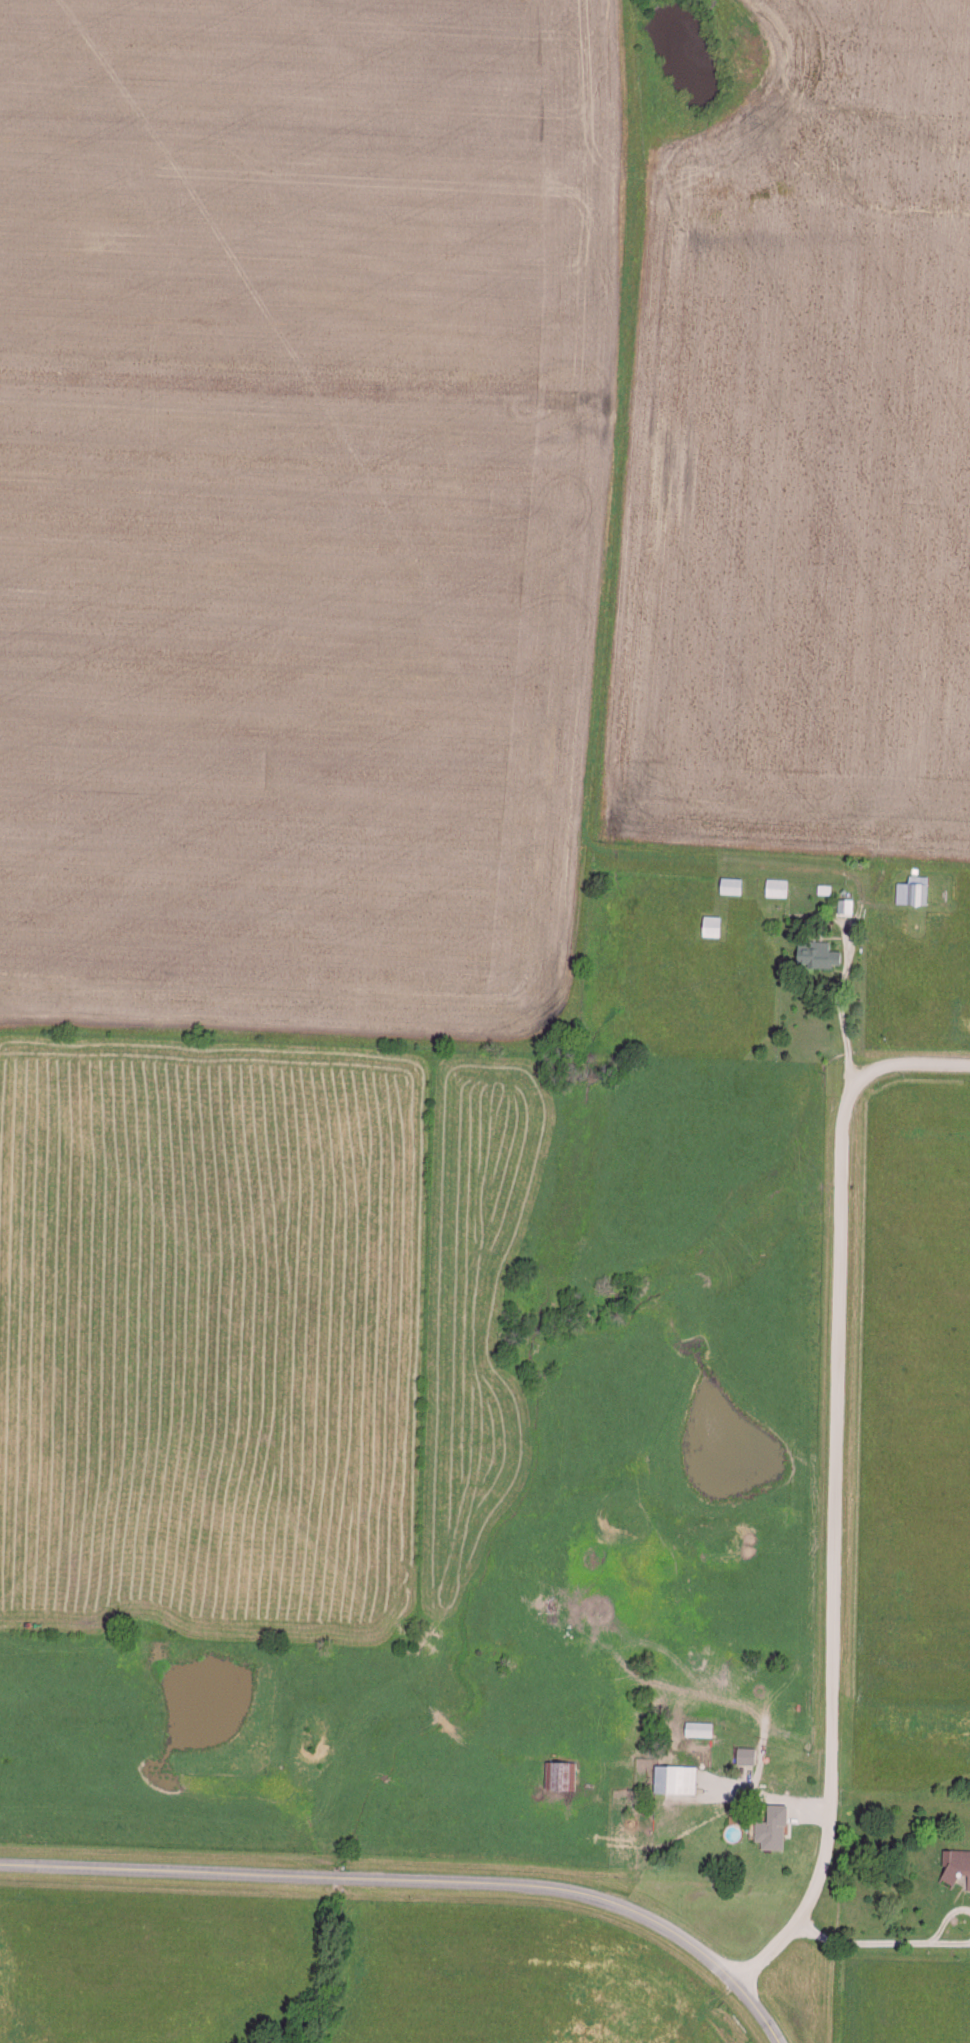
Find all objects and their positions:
road: (612, 552)
building: (775, 886)
building: (911, 888)
building: (844, 904)
building: (816, 952)
road: (846, 976)
road: (911, 1062)
road: (835, 1548)
building: (697, 1727)
building: (743, 1753)
building: (558, 1773)
building: (673, 1777)
road: (766, 1792)
building: (770, 1826)
building: (957, 1863)
road: (418, 1881)
road: (881, 1943)

